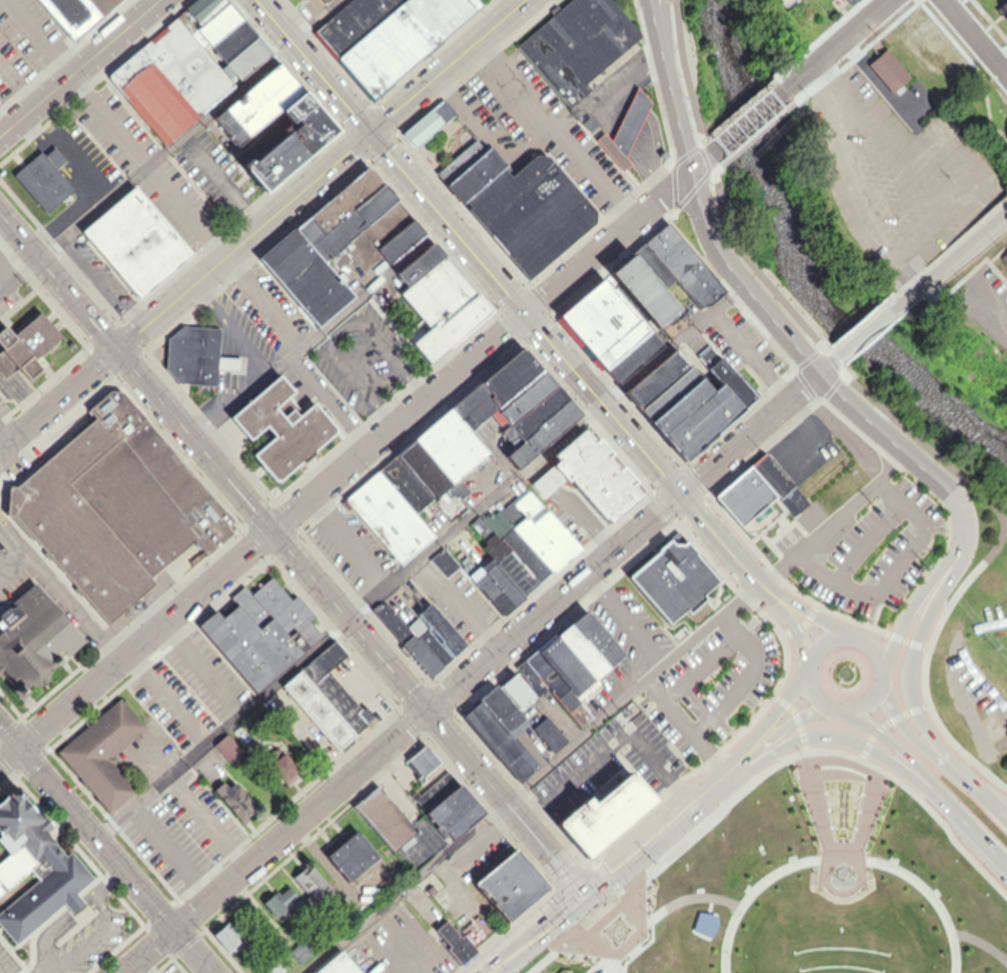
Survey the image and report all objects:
building: (298, 0)
building: (323, 0)
building: (196, 12)
building: (74, 14)
building: (351, 22)
building: (214, 26)
parking lot: (30, 31)
road: (36, 38)
building: (401, 39)
road: (973, 40)
building: (229, 43)
building: (576, 44)
road: (839, 46)
building: (244, 59)
building: (185, 66)
road: (446, 66)
parking lot: (12, 68)
road: (79, 68)
building: (892, 71)
building: (150, 96)
parking lot: (0, 101)
building: (255, 104)
building: (428, 123)
road: (746, 124)
building: (303, 125)
building: (624, 128)
road: (556, 129)
traffic signals: (369, 132)
road: (170, 145)
park: (441, 145)
building: (53, 156)
parking lot: (83, 156)
building: (459, 160)
road: (78, 161)
building: (271, 164)
parking lot: (145, 165)
road: (147, 166)
parking lot: (213, 172)
building: (474, 173)
building: (41, 180)
road: (221, 180)
road: (77, 187)
building: (343, 198)
building: (372, 203)
building: (530, 211)
building: (329, 232)
road: (615, 233)
building: (375, 234)
building: (399, 239)
building: (134, 241)
road: (467, 247)
building: (1005, 256)
road: (951, 259)
building: (419, 263)
building: (652, 265)
building: (683, 265)
parking lot: (98, 271)
building: (304, 276)
road: (194, 281)
building: (0, 285)
road: (100, 286)
building: (0, 289)
building: (437, 292)
building: (648, 294)
road: (630, 300)
road: (262, 301)
parking lot: (268, 307)
traffic signals: (524, 313)
building: (598, 316)
road: (769, 316)
building: (450, 328)
road: (868, 329)
road: (319, 330)
parking lot: (240, 332)
building: (620, 342)
parking lot: (740, 343)
building: (28, 345)
traffic signals: (115, 349)
building: (192, 354)
building: (632, 355)
road: (748, 356)
road: (693, 361)
building: (227, 363)
road: (51, 376)
building: (725, 376)
building: (657, 377)
building: (496, 388)
building: (668, 392)
building: (525, 398)
road: (328, 401)
parking lot: (2, 407)
road: (889, 410)
building: (694, 416)
building: (528, 419)
road: (762, 421)
building: (281, 427)
building: (543, 433)
road: (9, 438)
building: (449, 445)
parking lot: (803, 447)
building: (422, 468)
building: (592, 479)
building: (780, 481)
building: (404, 484)
traffic signals: (683, 490)
building: (748, 495)
building: (114, 505)
road: (841, 513)
road: (562, 515)
building: (388, 517)
road: (0, 523)
traffic signals: (270, 530)
building: (538, 530)
road: (722, 535)
road: (261, 537)
road: (348, 541)
road: (867, 541)
building: (515, 545)
parking lot: (355, 546)
parking lot: (878, 546)
road: (290, 554)
building: (503, 556)
road: (417, 560)
road: (13, 561)
building: (443, 562)
building: (910, 564)
road: (892, 571)
parking lot: (41, 575)
building: (677, 577)
building: (501, 581)
road: (63, 587)
road: (773, 588)
building: (491, 592)
parking lot: (455, 599)
road: (459, 602)
road: (819, 611)
road: (908, 611)
road: (624, 618)
parking lot: (633, 622)
building: (440, 630)
building: (451, 630)
building: (260, 631)
road: (799, 632)
park: (979, 635)
building: (405, 638)
building: (595, 638)
building: (32, 639)
building: (427, 641)
building: (581, 650)
road: (701, 665)
road: (201, 667)
building: (565, 667)
road: (913, 675)
road: (746, 677)
building: (530, 679)
parking lot: (715, 681)
parking lot: (190, 688)
building: (556, 689)
building: (514, 690)
building: (331, 696)
road: (165, 699)
road: (868, 700)
traffic signals: (427, 711)
building: (501, 711)
road: (777, 712)
road: (889, 721)
road: (686, 724)
road: (784, 726)
road: (402, 731)
road: (841, 732)
road: (916, 733)
building: (548, 734)
road: (892, 737)
building: (500, 741)
road: (611, 742)
building: (225, 747)
building: (252, 749)
building: (102, 752)
parking lot: (612, 761)
building: (421, 762)
building: (281, 766)
road: (760, 775)
road: (533, 777)
road: (985, 791)
building: (237, 798)
road: (813, 803)
building: (603, 811)
road: (865, 812)
building: (384, 818)
building: (438, 818)
road: (209, 819)
road: (969, 819)
road: (663, 825)
parking lot: (187, 827)
road: (106, 851)
road: (172, 851)
building: (355, 854)
road: (843, 854)
parking lot: (486, 855)
building: (36, 869)
fountain: (841, 873)
building: (920, 878)
building: (514, 881)
park: (801, 884)
road: (112, 885)
building: (310, 885)
building: (437, 890)
traffic signals: (583, 893)
building: (286, 900)
building: (436, 910)
road: (656, 912)
road: (62, 926)
road: (409, 929)
building: (235, 932)
road: (533, 932)
road: (982, 937)
road: (91, 938)
building: (459, 940)
parking lot: (398, 948)
building: (299, 951)
building: (337, 965)
road: (142, 966)
building: (271, 966)
parking lot: (174, 967)
road: (50, 970)

